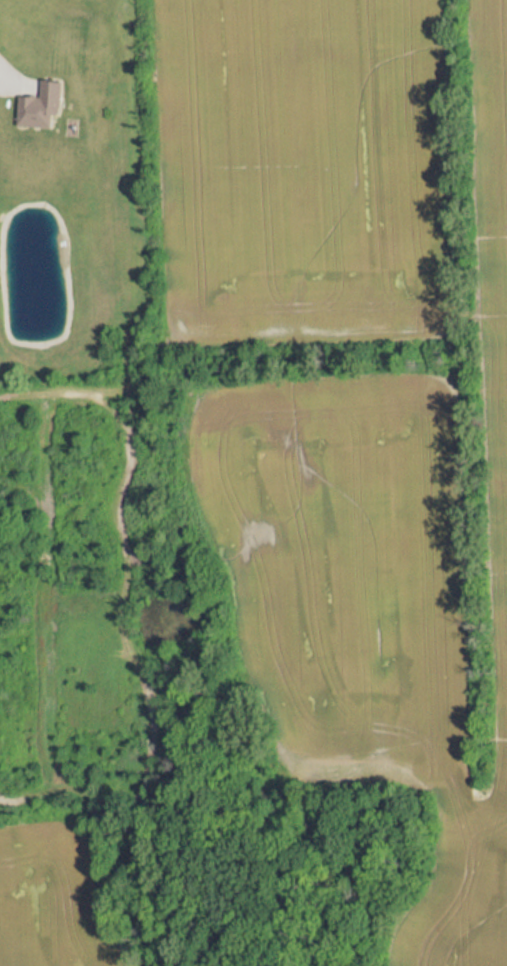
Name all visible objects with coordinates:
road: (9, 75)
building: (42, 104)

